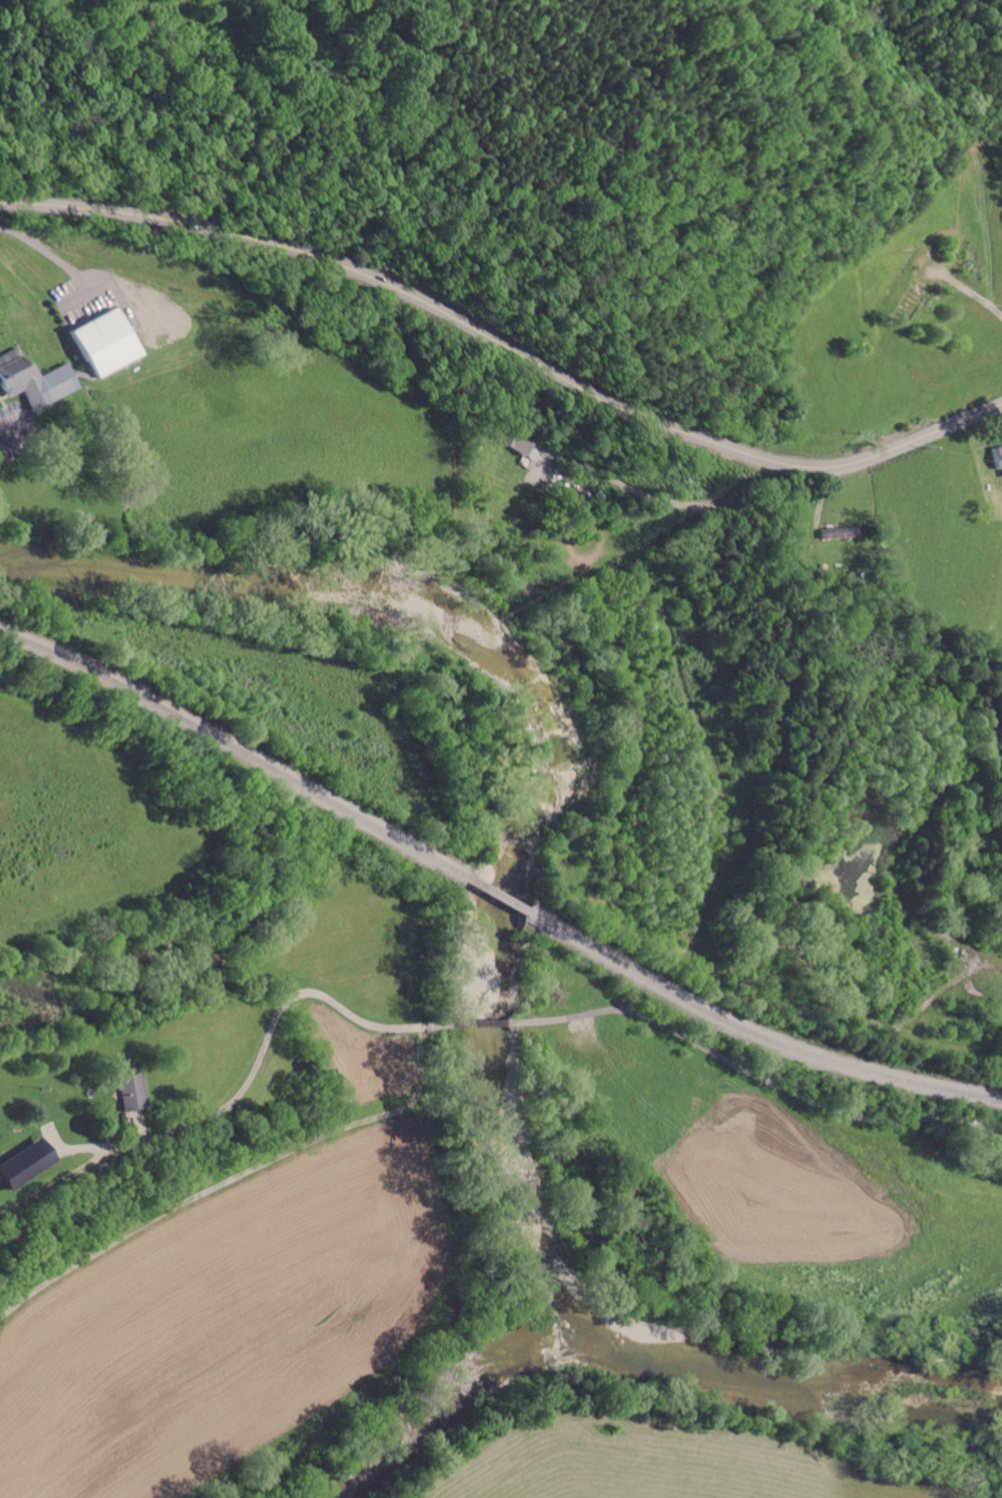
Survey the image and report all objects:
road: (971, 290)
park: (20, 310)
road: (507, 338)
building: (110, 342)
building: (36, 378)
building: (997, 456)
road: (683, 508)
building: (842, 531)
railway: (25, 641)
railway: (256, 762)
railway: (497, 894)
railway: (755, 1033)
road: (716, 1045)
building: (132, 1090)
road: (223, 1099)
building: (27, 1162)
road: (228, 1178)

